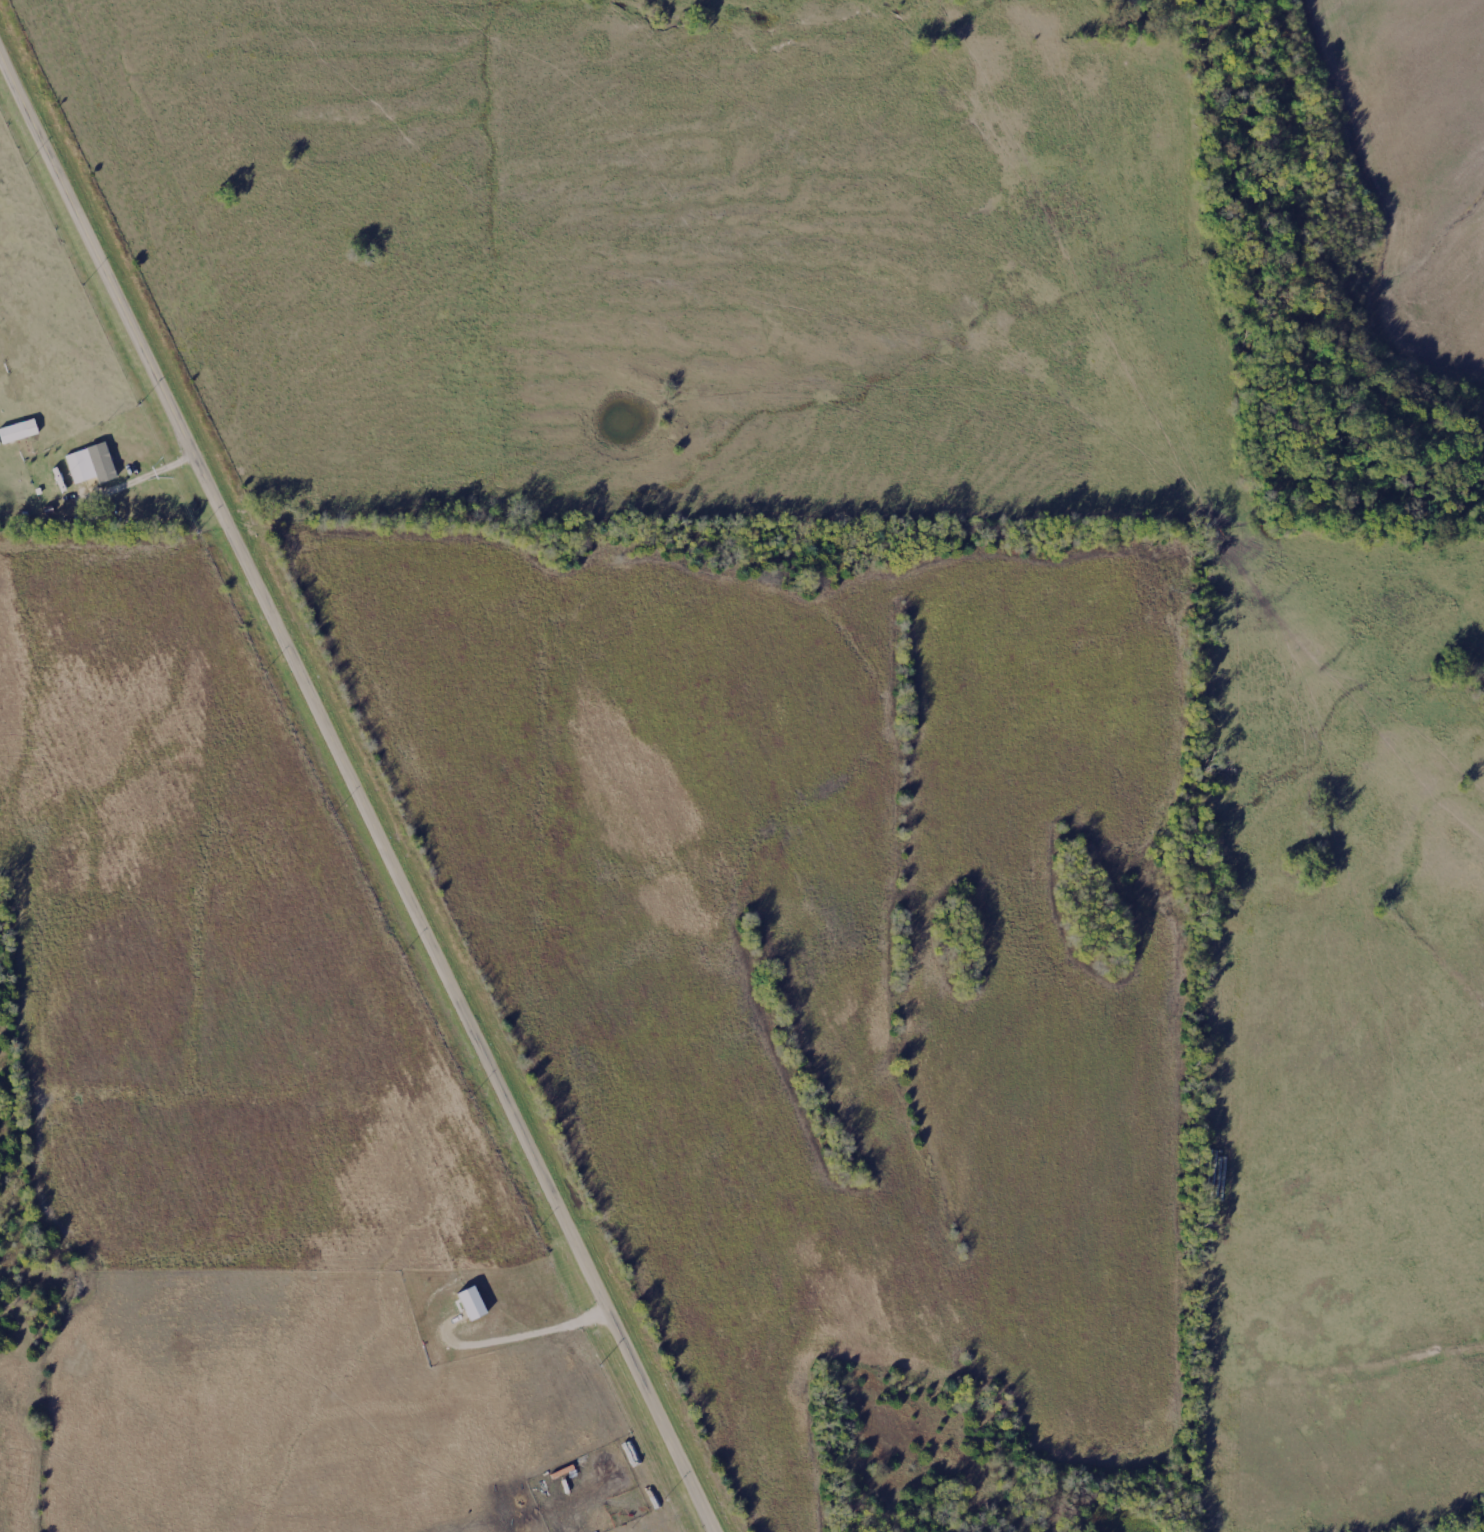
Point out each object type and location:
building: (12, 433)
building: (76, 467)
road: (149, 472)
road: (365, 778)
building: (475, 1304)

